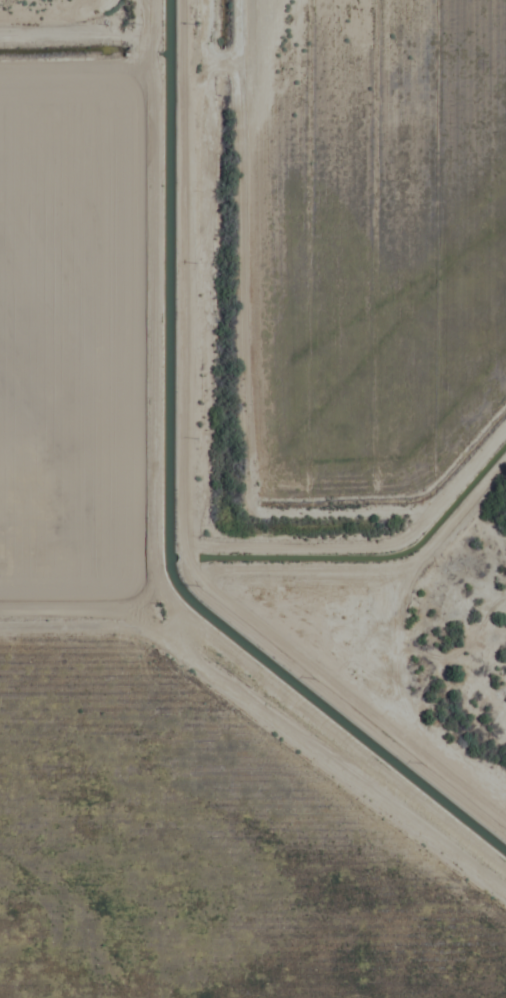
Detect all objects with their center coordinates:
crop: (233, 472)

